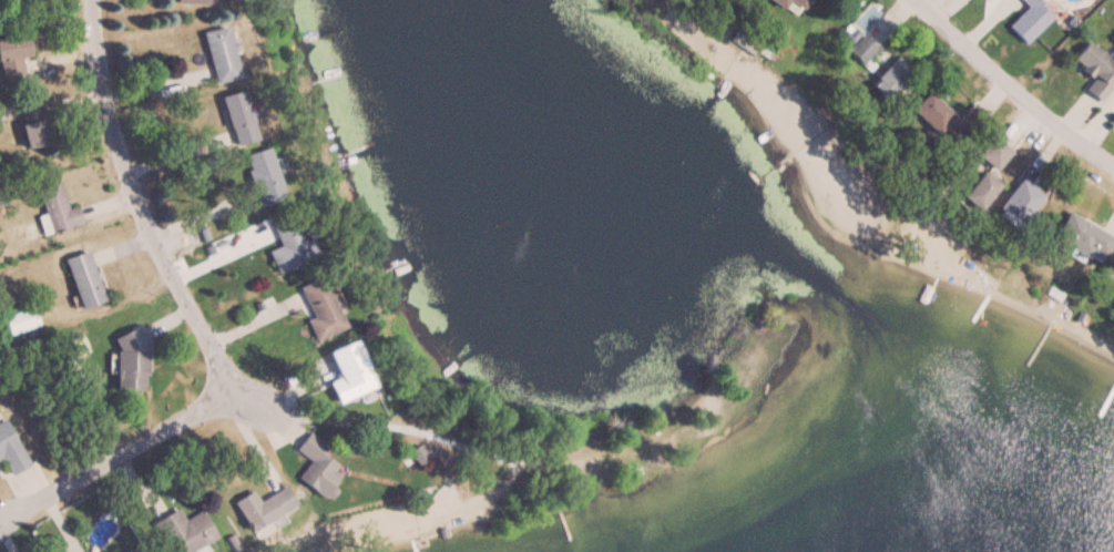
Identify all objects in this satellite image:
building: (192, 1)
building: (791, 4)
building: (1028, 21)
building: (860, 49)
building: (12, 53)
building: (218, 54)
building: (1094, 71)
building: (892, 80)
road: (1009, 89)
building: (236, 119)
building: (950, 121)
building: (32, 124)
building: (993, 154)
building: (262, 177)
building: (982, 192)
building: (1021, 205)
building: (57, 208)
building: (1083, 238)
building: (286, 247)
building: (83, 279)
building: (318, 310)
building: (20, 319)
road: (196, 319)
building: (130, 361)
building: (346, 375)
building: (10, 451)
building: (316, 466)
building: (263, 509)
building: (187, 531)
building: (125, 551)

